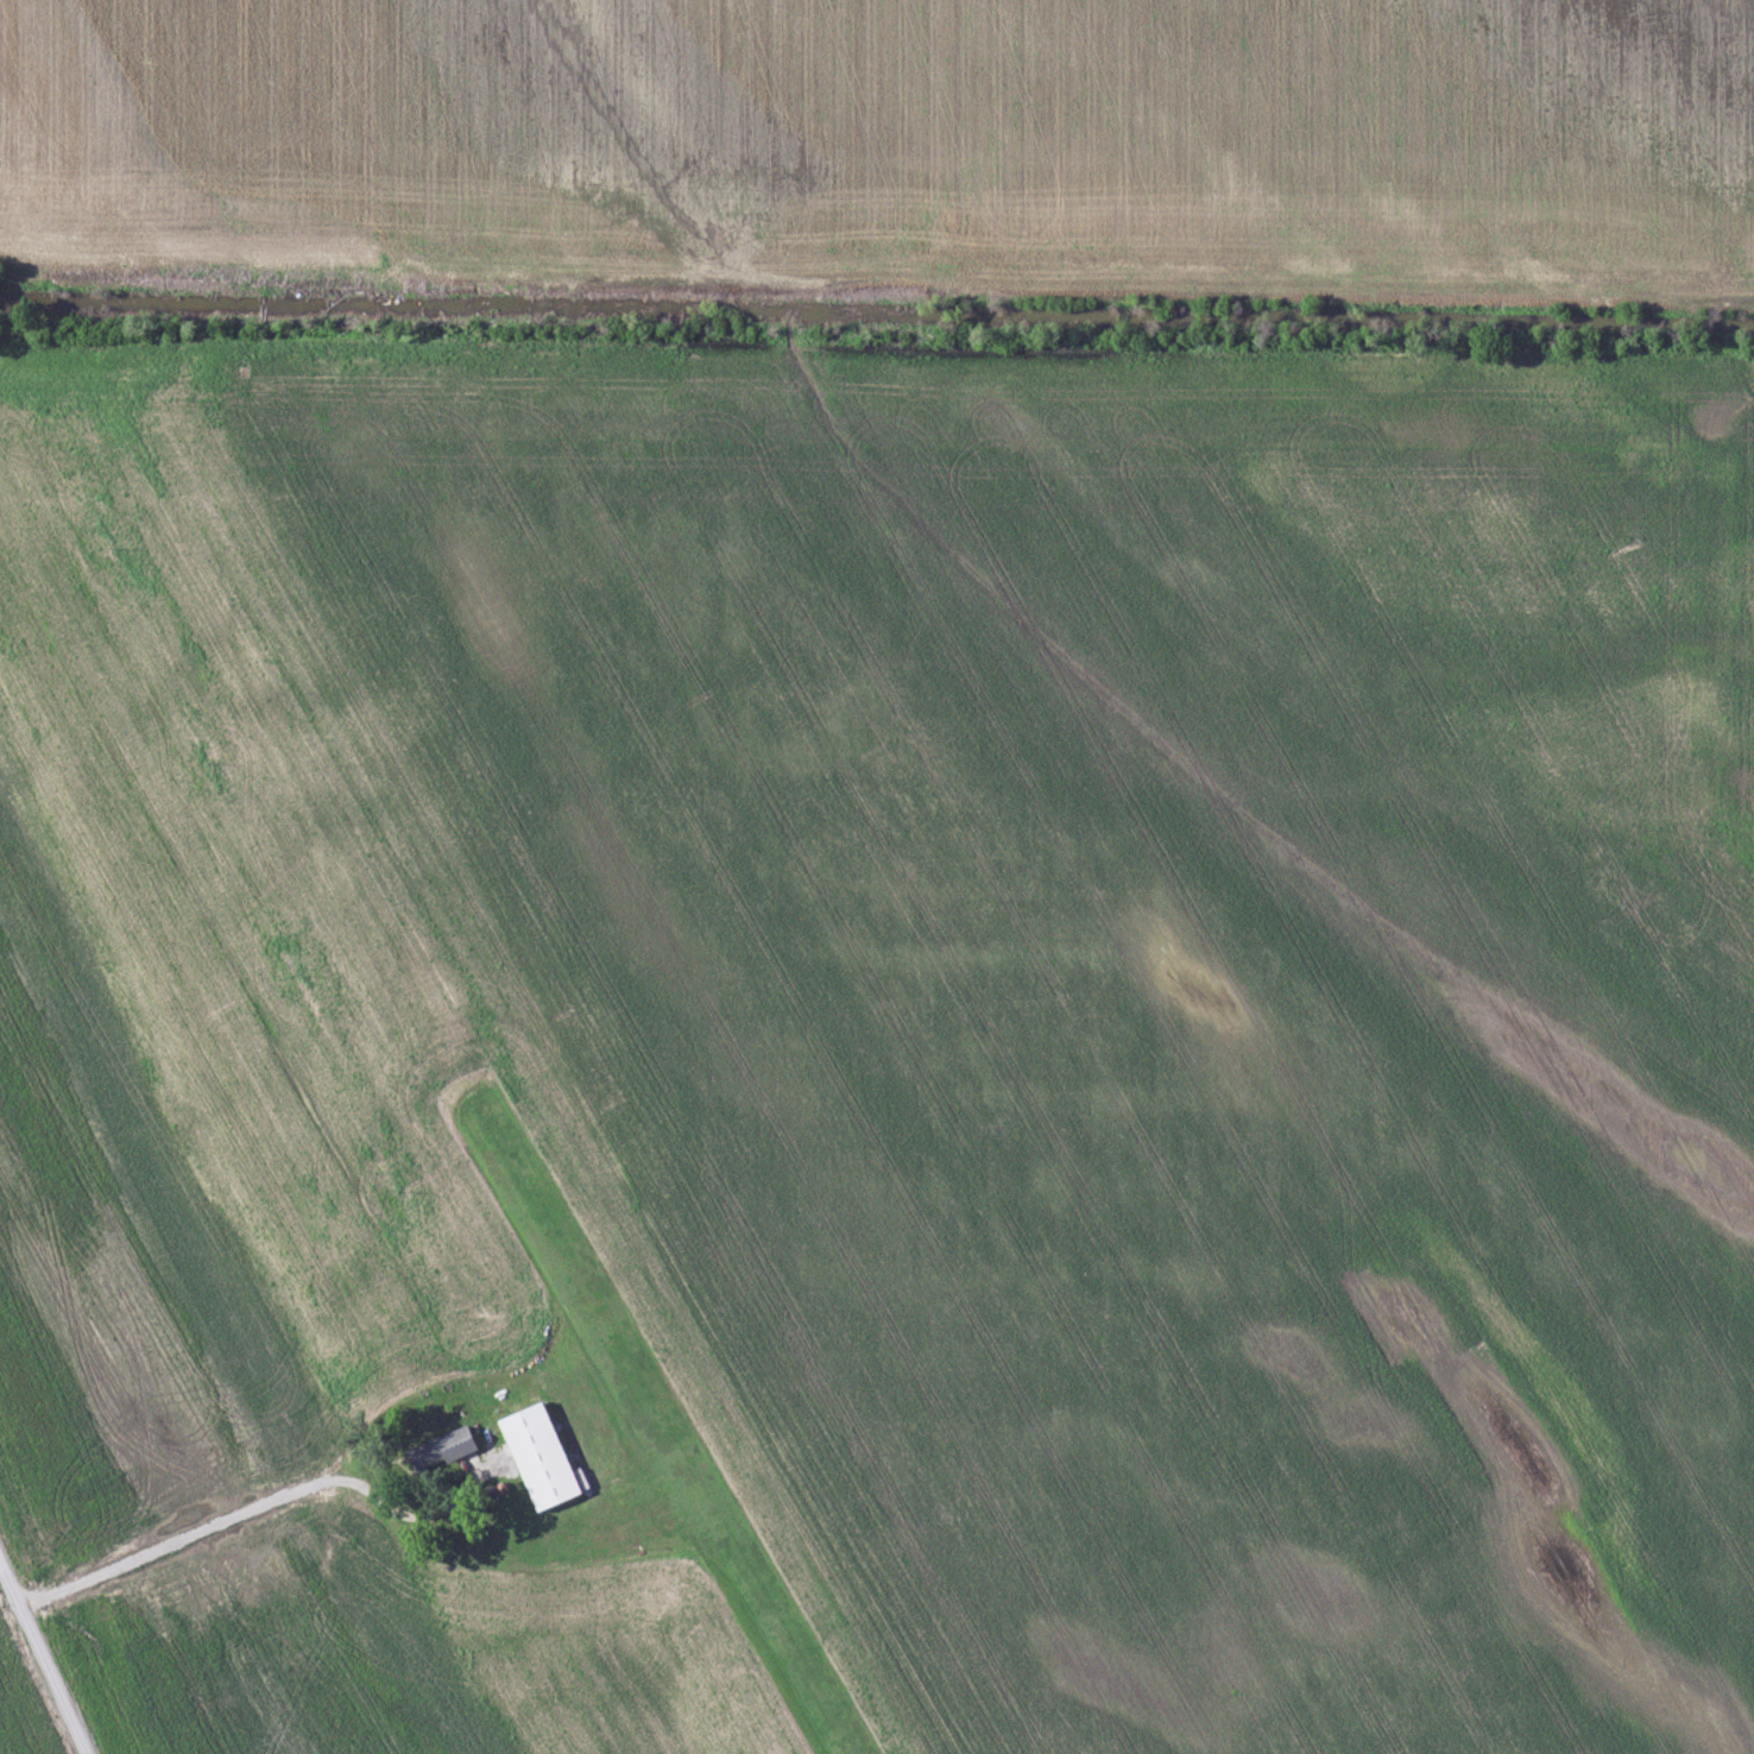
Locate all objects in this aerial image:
building: (594, 1433)
building: (440, 1452)
building: (538, 1458)
road: (261, 1509)
road: (45, 1654)

